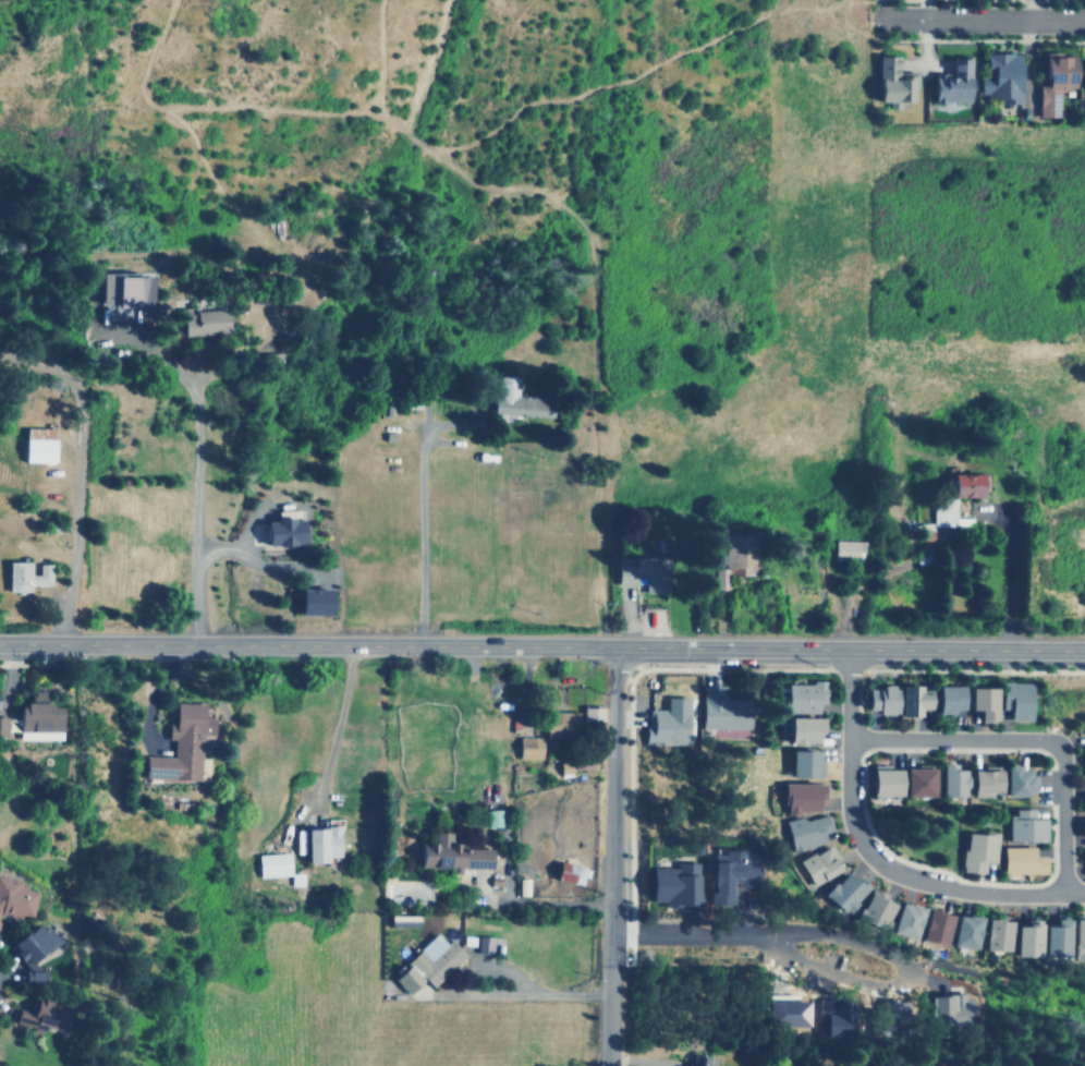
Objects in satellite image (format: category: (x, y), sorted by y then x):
road: (925, 10)
road: (983, 20)
road: (371, 57)
road: (650, 62)
road: (416, 65)
building: (1081, 74)
building: (998, 75)
building: (1053, 81)
building: (889, 82)
building: (949, 82)
road: (508, 187)
building: (130, 290)
building: (211, 320)
building: (515, 399)
building: (42, 444)
road: (77, 476)
building: (947, 498)
building: (289, 529)
road: (195, 532)
building: (845, 550)
building: (732, 559)
building: (637, 570)
building: (29, 574)
building: (321, 601)
road: (542, 645)
building: (803, 696)
building: (877, 699)
building: (943, 699)
building: (1012, 699)
building: (910, 700)
building: (978, 702)
building: (721, 710)
building: (590, 717)
building: (1082, 722)
building: (667, 723)
building: (560, 724)
building: (3, 725)
building: (801, 729)
road: (331, 737)
road: (1029, 740)
building: (184, 743)
building: (527, 747)
building: (803, 764)
building: (948, 779)
building: (997, 779)
building: (898, 782)
building: (798, 796)
building: (1083, 801)
building: (491, 817)
building: (1024, 825)
building: (1081, 826)
building: (806, 831)
building: (318, 843)
building: (976, 850)
building: (449, 855)
road: (612, 856)
road: (878, 856)
building: (1020, 860)
building: (270, 864)
building: (819, 864)
building: (563, 871)
building: (724, 875)
building: (671, 883)
building: (845, 892)
building: (16, 898)
building: (876, 908)
building: (907, 919)
building: (936, 926)
building: (966, 931)
road: (685, 932)
building: (998, 934)
building: (1078, 935)
building: (1057, 936)
building: (1027, 938)
building: (484, 943)
building: (36, 947)
parking lot: (824, 956)
road: (990, 961)
building: (426, 964)
road: (894, 964)
road: (533, 993)
building: (947, 1007)
building: (41, 1014)
building: (834, 1018)

